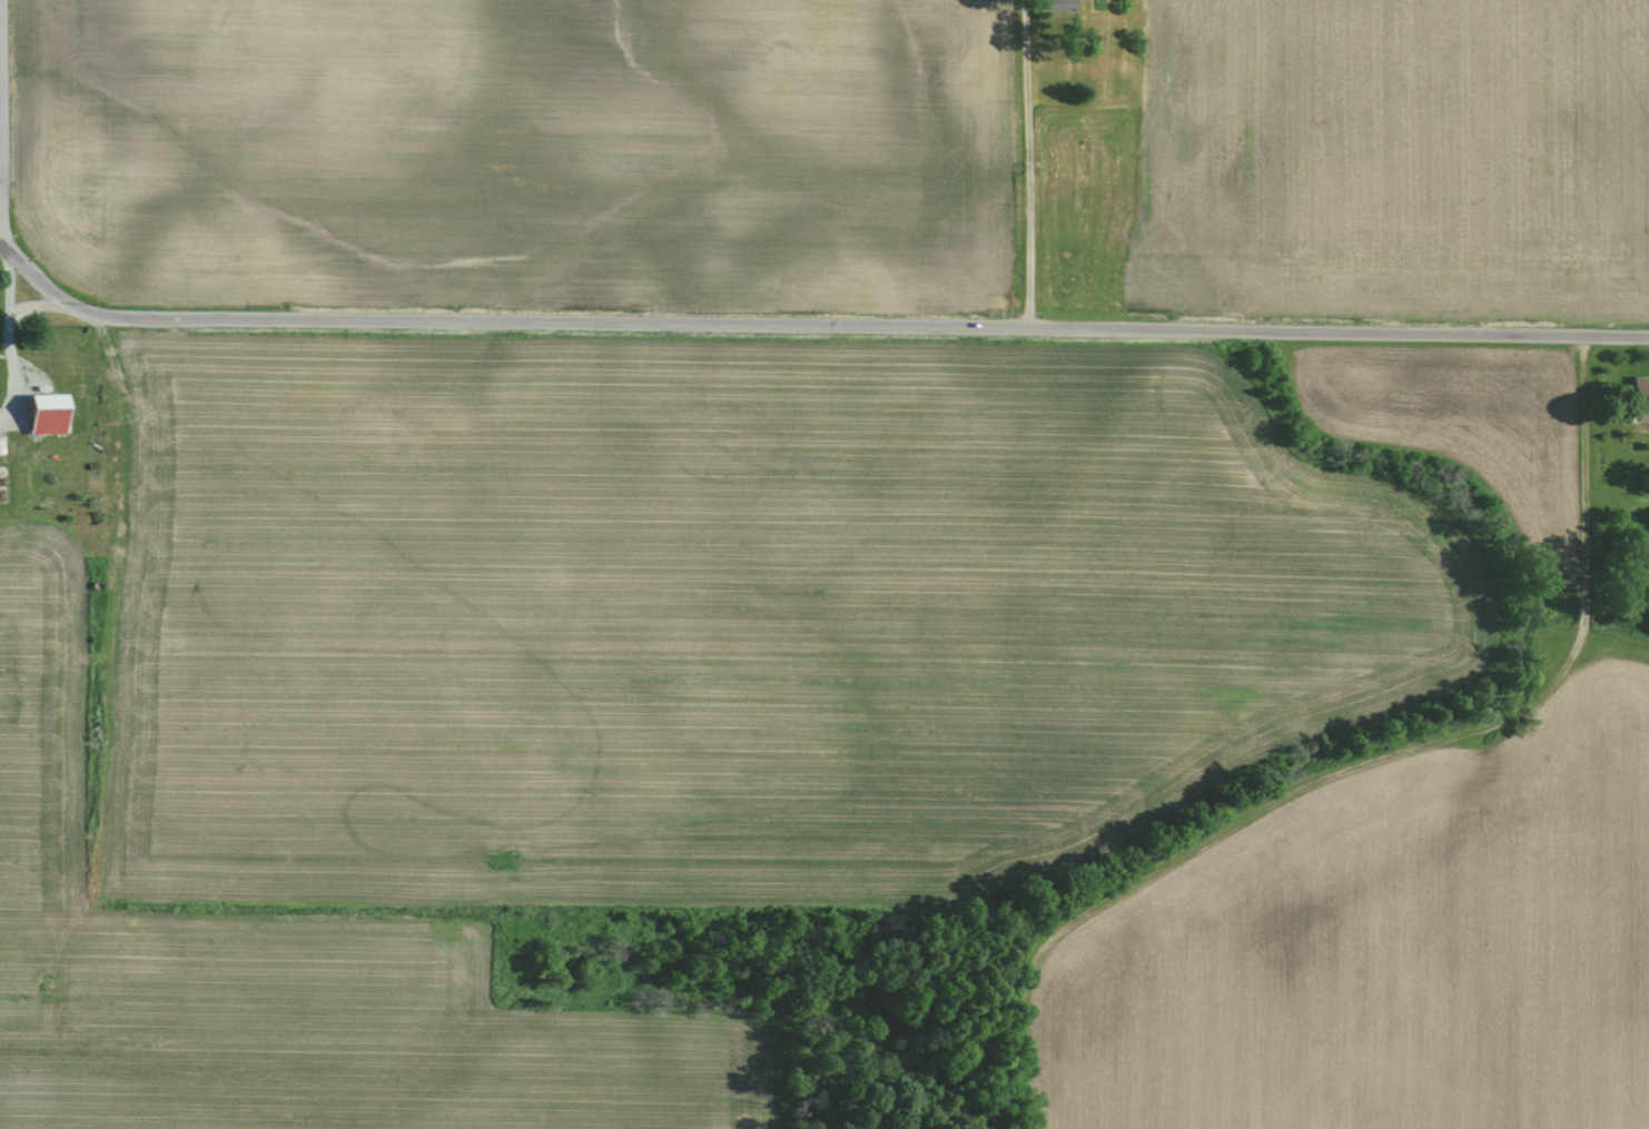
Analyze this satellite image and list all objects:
building: (1058, 6)
road: (1, 92)
road: (1027, 164)
road: (810, 326)
road: (9, 336)
building: (1642, 394)
building: (50, 414)
building: (3, 452)

